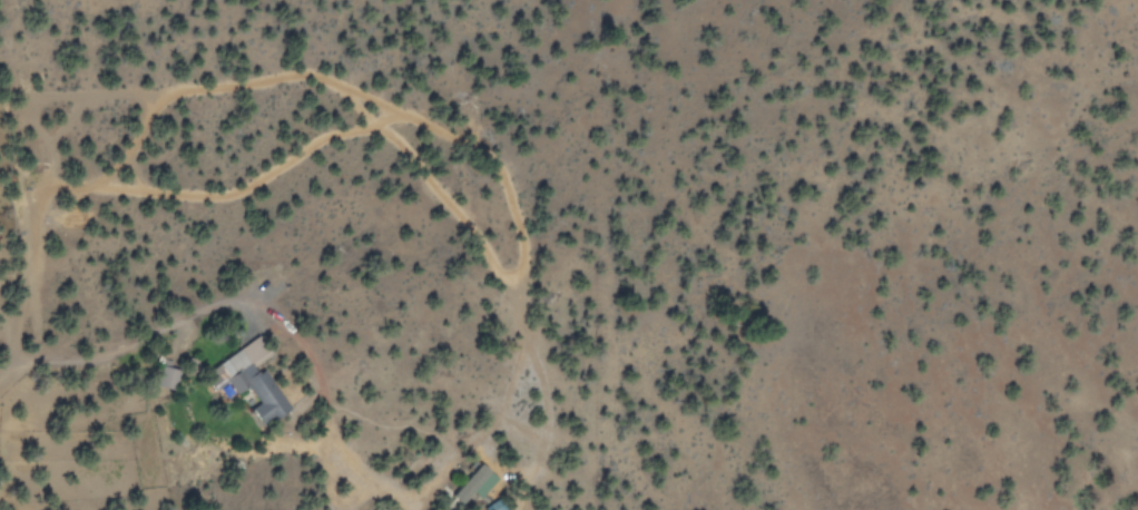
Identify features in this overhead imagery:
building: (163, 376)
building: (245, 380)
building: (470, 483)
building: (491, 506)

